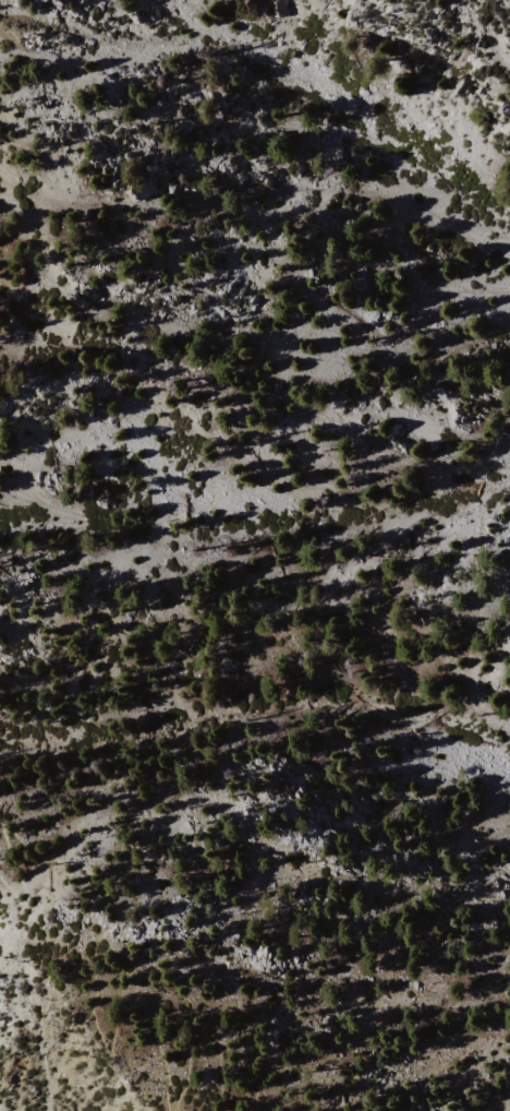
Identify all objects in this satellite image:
road: (118, 1015)
road: (262, 1096)

